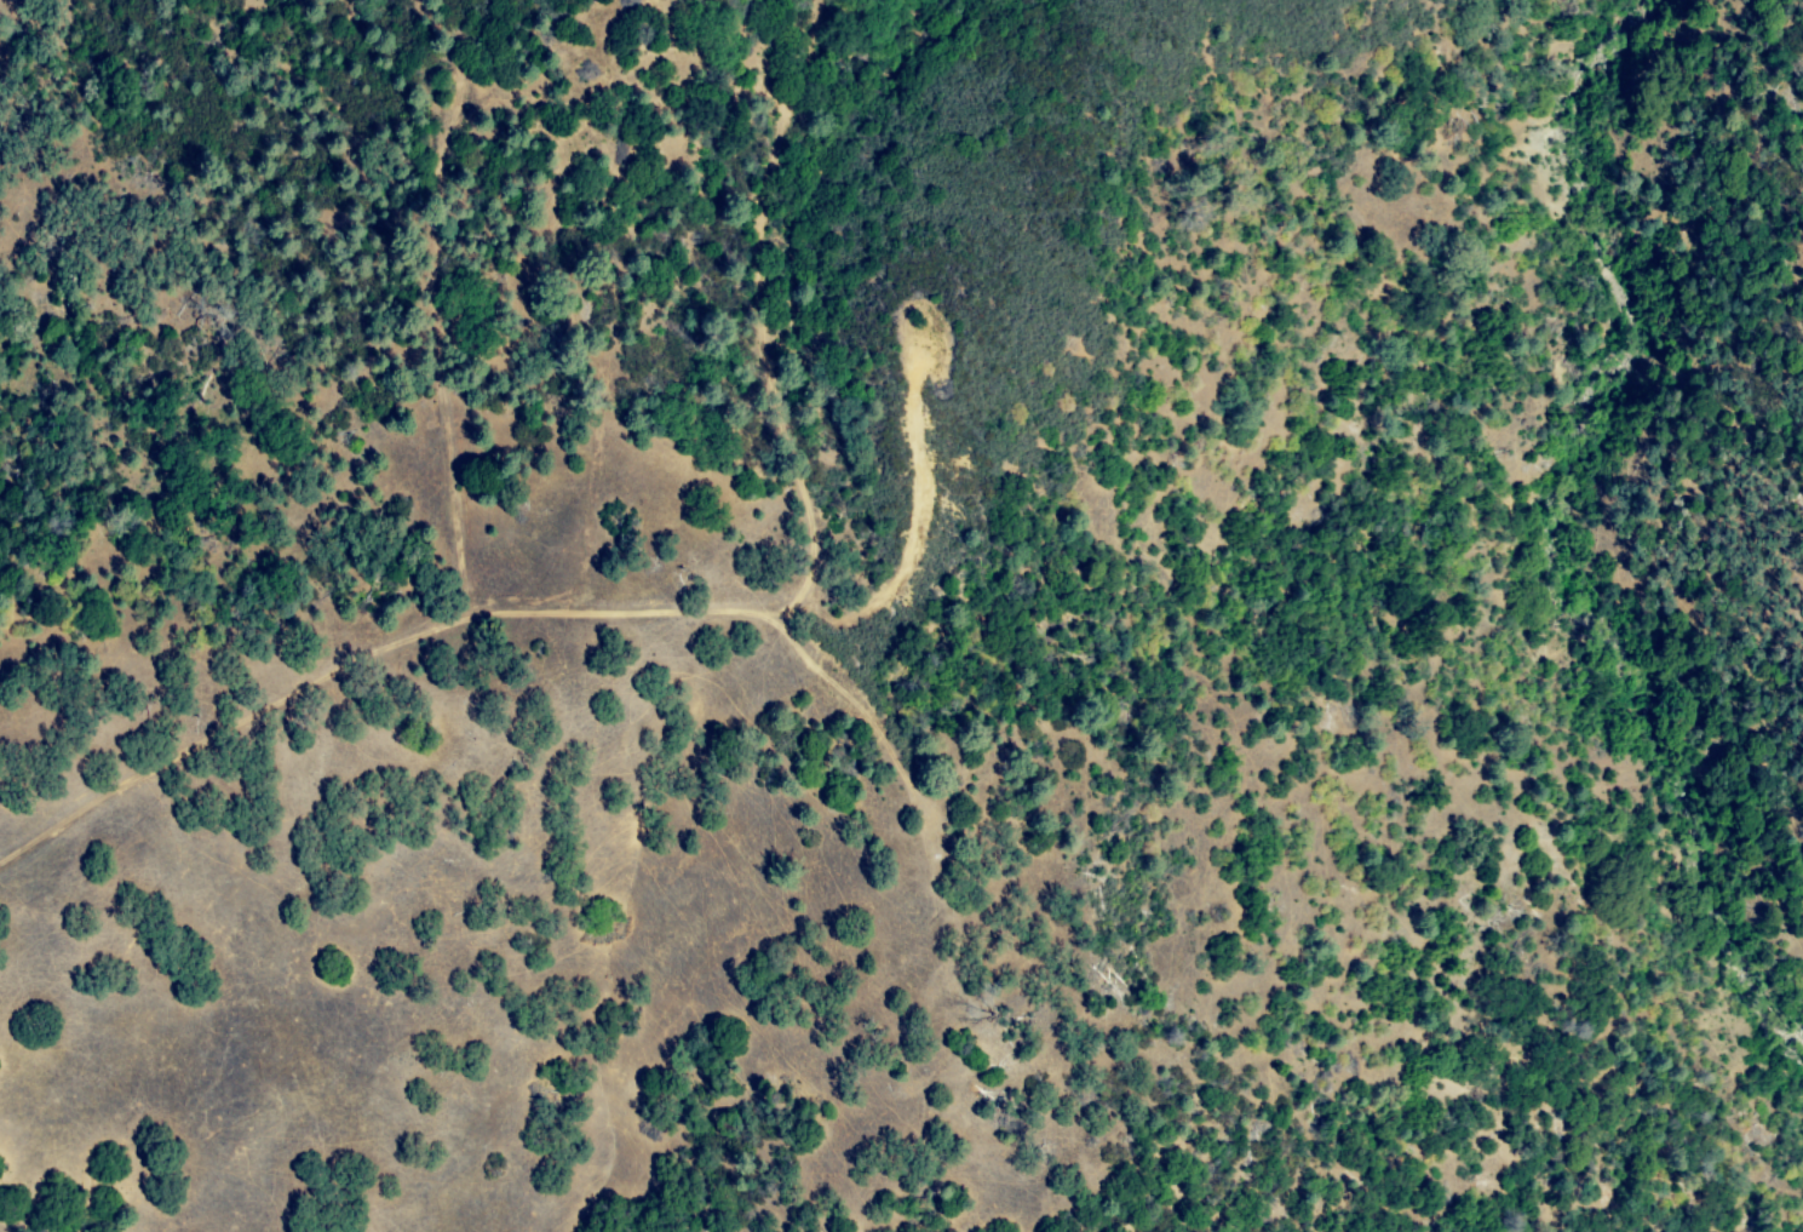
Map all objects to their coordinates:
road: (438, 300)
road: (677, 612)
road: (862, 701)

